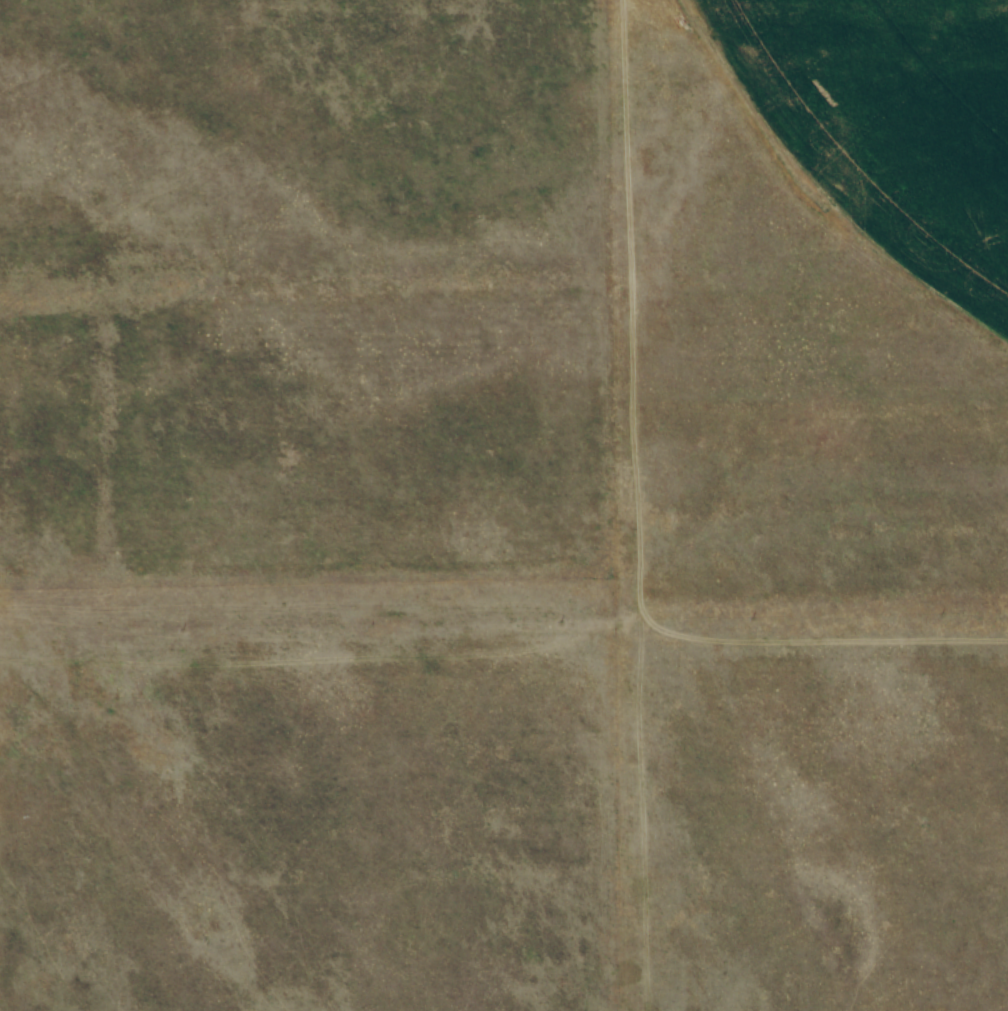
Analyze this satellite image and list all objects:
crop: (887, 124)

